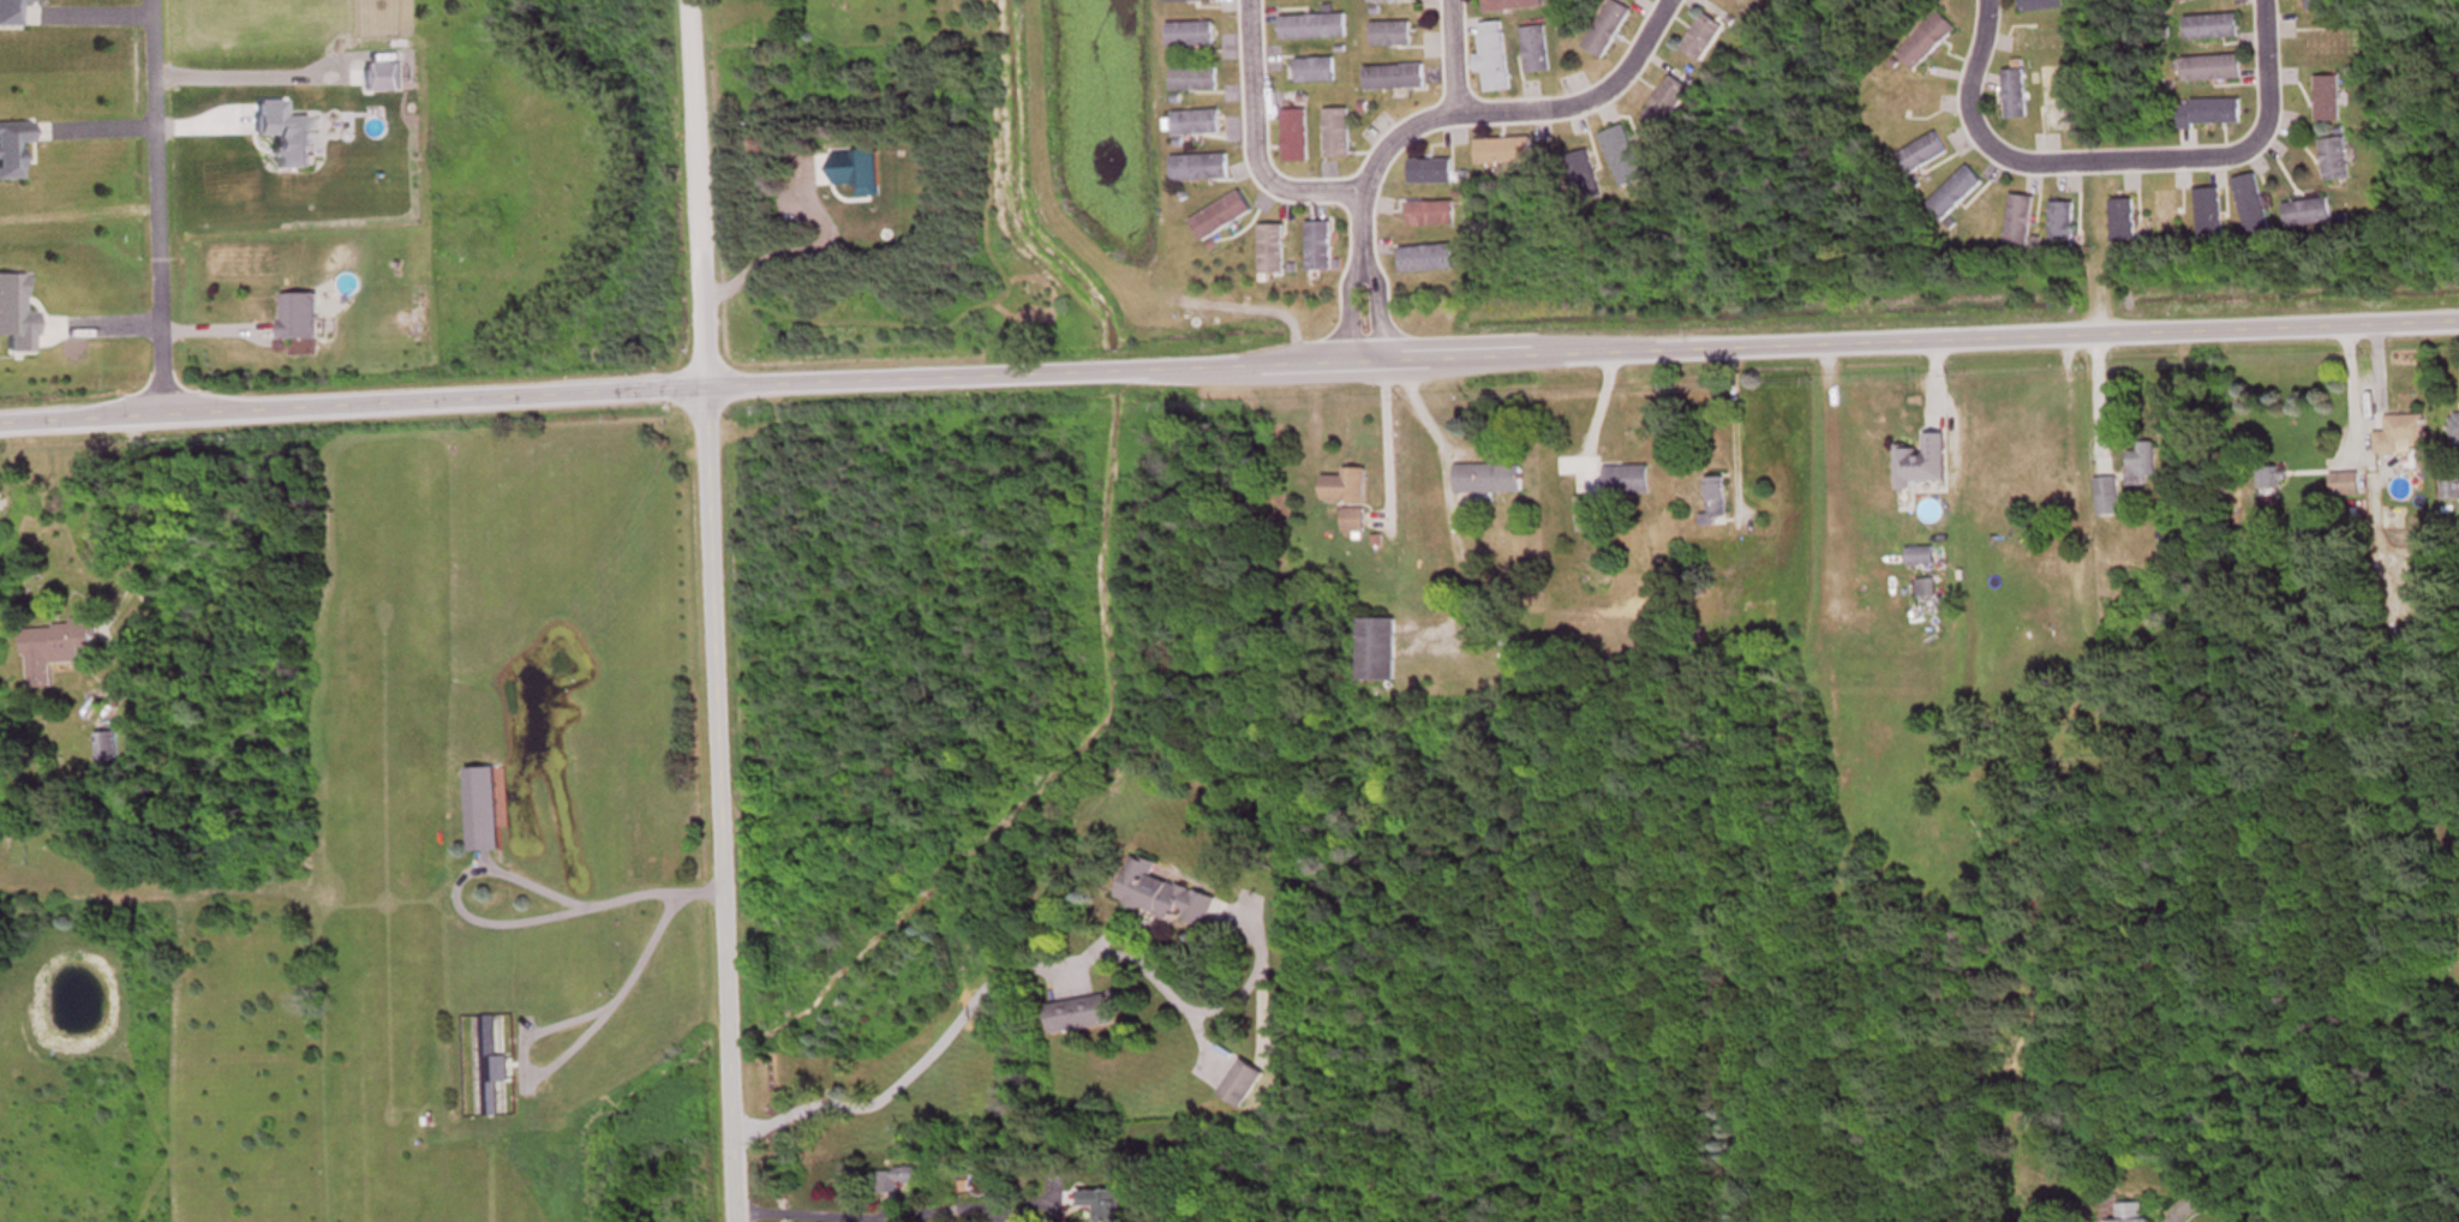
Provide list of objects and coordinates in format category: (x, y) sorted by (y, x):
building: (1390, 1)
building: (1784, 1)
building: (2194, 1)
building: (1514, 6)
building: (2041, 6)
building: (2320, 6)
building: (12, 13)
building: (1315, 29)
building: (2213, 29)
building: (1609, 30)
building: (1192, 36)
building: (1393, 36)
building: (1704, 40)
building: (1928, 43)
building: (1538, 52)
road: (1448, 54)
building: (1495, 59)
building: (2213, 71)
building: (1317, 72)
building: (1396, 79)
building: (1196, 80)
building: (2016, 96)
building: (2057, 101)
building: (2329, 101)
building: (1668, 104)
road: (1514, 112)
building: (2212, 114)
road: (688, 118)
building: (1198, 124)
building: (1339, 134)
road: (1250, 138)
building: (1297, 138)
building: (13, 149)
building: (1506, 152)
building: (1922, 156)
building: (1625, 157)
road: (2111, 160)
building: (2337, 161)
building: (1202, 169)
building: (1581, 169)
building: (1432, 173)
building: (1955, 196)
road: (156, 205)
building: (2252, 206)
building: (2309, 215)
building: (1432, 216)
building: (2167, 216)
building: (1223, 217)
building: (2020, 222)
building: (2123, 222)
building: (2063, 228)
building: (1321, 248)
building: (1274, 251)
building: (1429, 260)
road: (1357, 277)
building: (17, 317)
building: (300, 318)
road: (1228, 366)
building: (2455, 425)
building: (2403, 436)
building: (2143, 461)
building: (1923, 463)
building: (1490, 480)
building: (2268, 480)
building: (1628, 481)
building: (2346, 486)
building: (1347, 489)
building: (2451, 490)
building: (2108, 498)
building: (1718, 502)
road: (128, 510)
building: (1354, 522)
building: (1590, 527)
building: (1921, 557)
building: (1927, 588)
building: (59, 647)
building: (1378, 653)
road: (712, 729)
building: (106, 750)
building: (484, 813)
road: (496, 863)
building: (1165, 899)
road: (641, 953)
road: (1009, 960)
building: (1081, 1018)
building: (487, 1071)
building: (1243, 1088)
building: (899, 1181)
building: (1113, 1204)
road: (890, 1208)
building: (2132, 1214)

